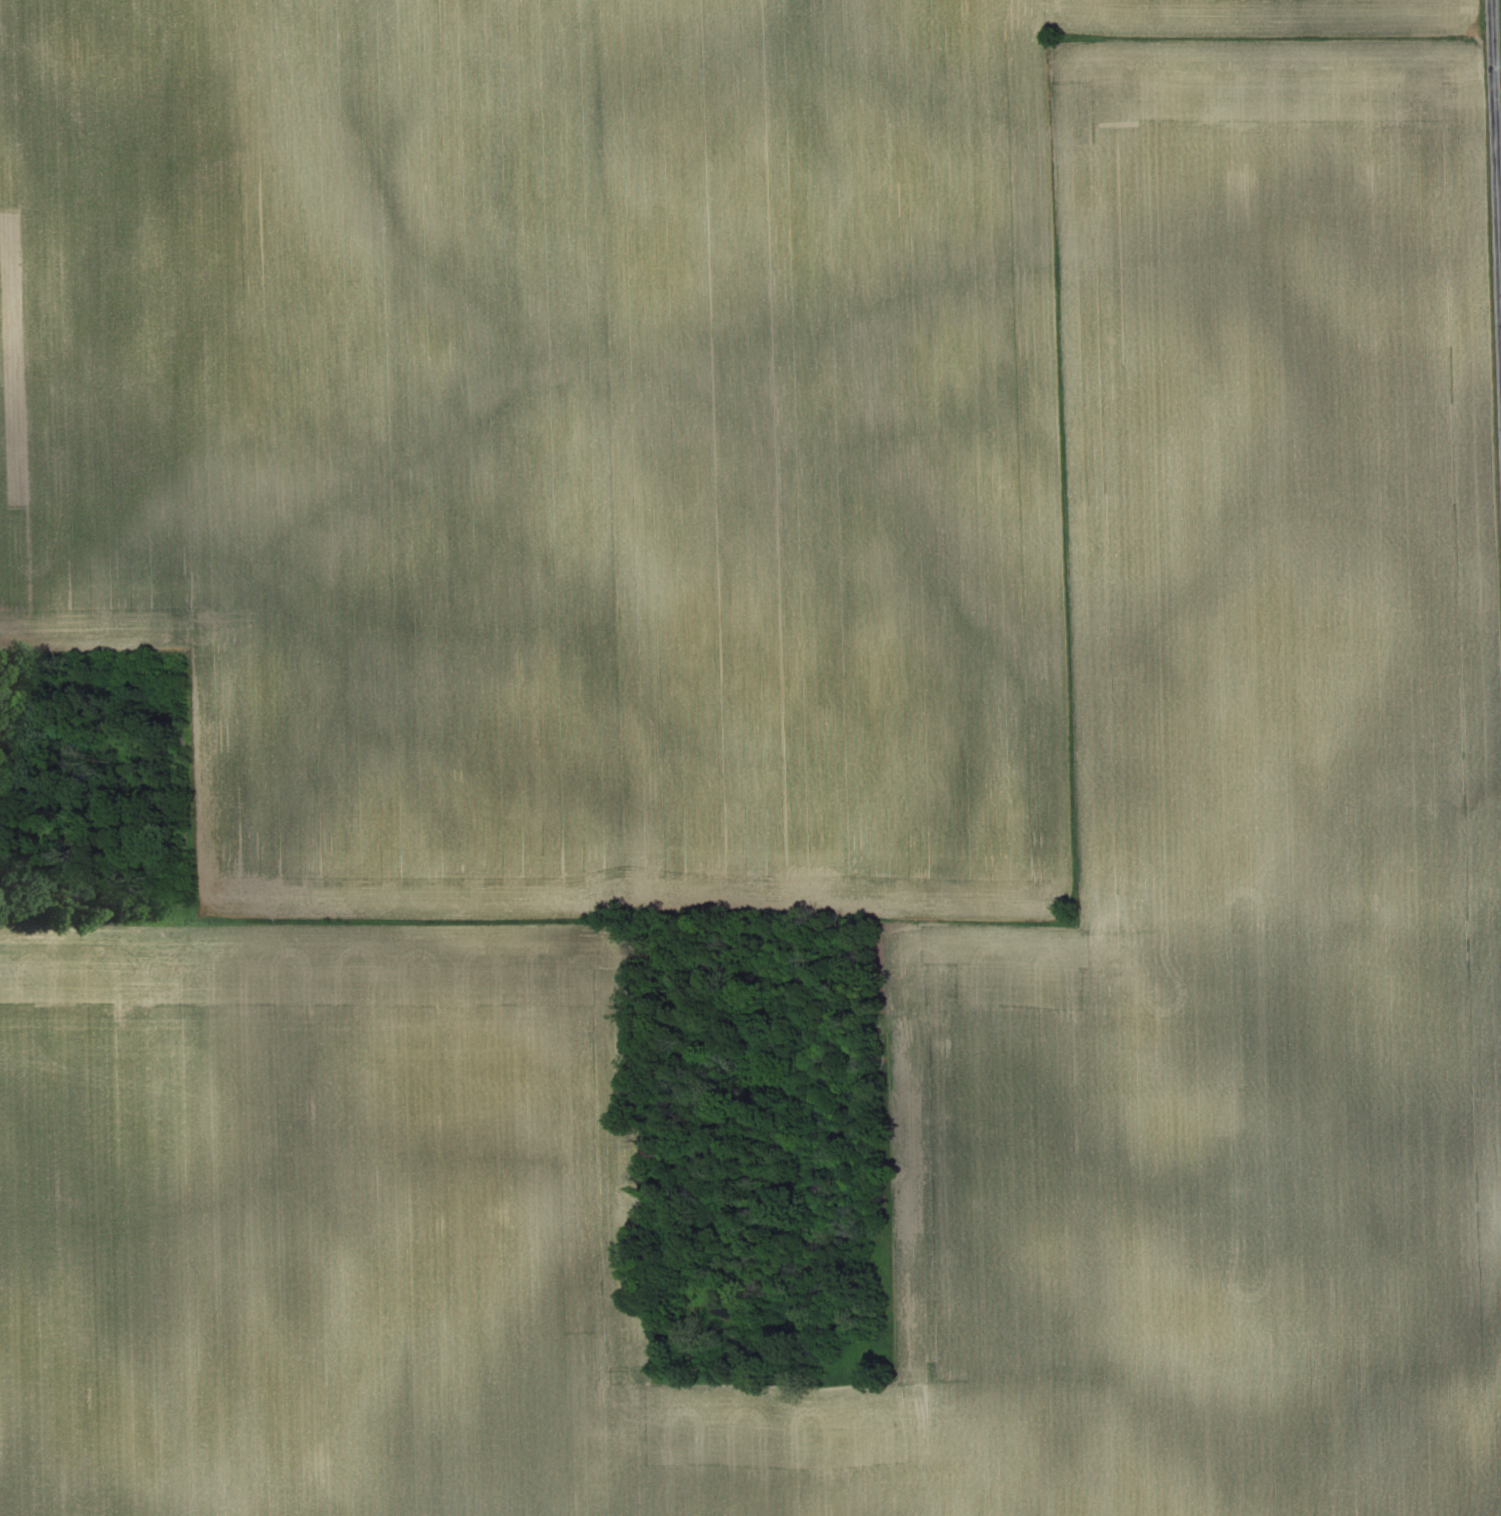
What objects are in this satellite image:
road: (1496, 149)

